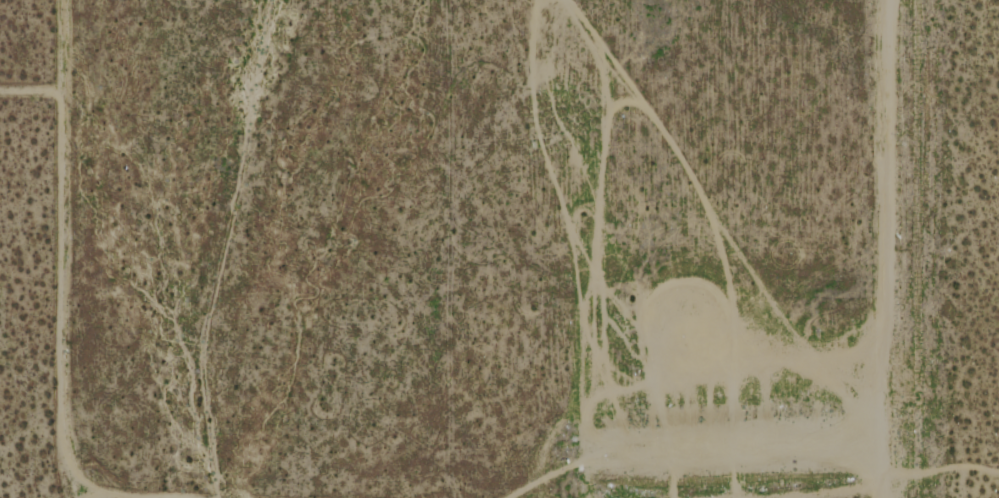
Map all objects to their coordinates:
road: (882, 249)
road: (60, 250)
road: (98, 497)

